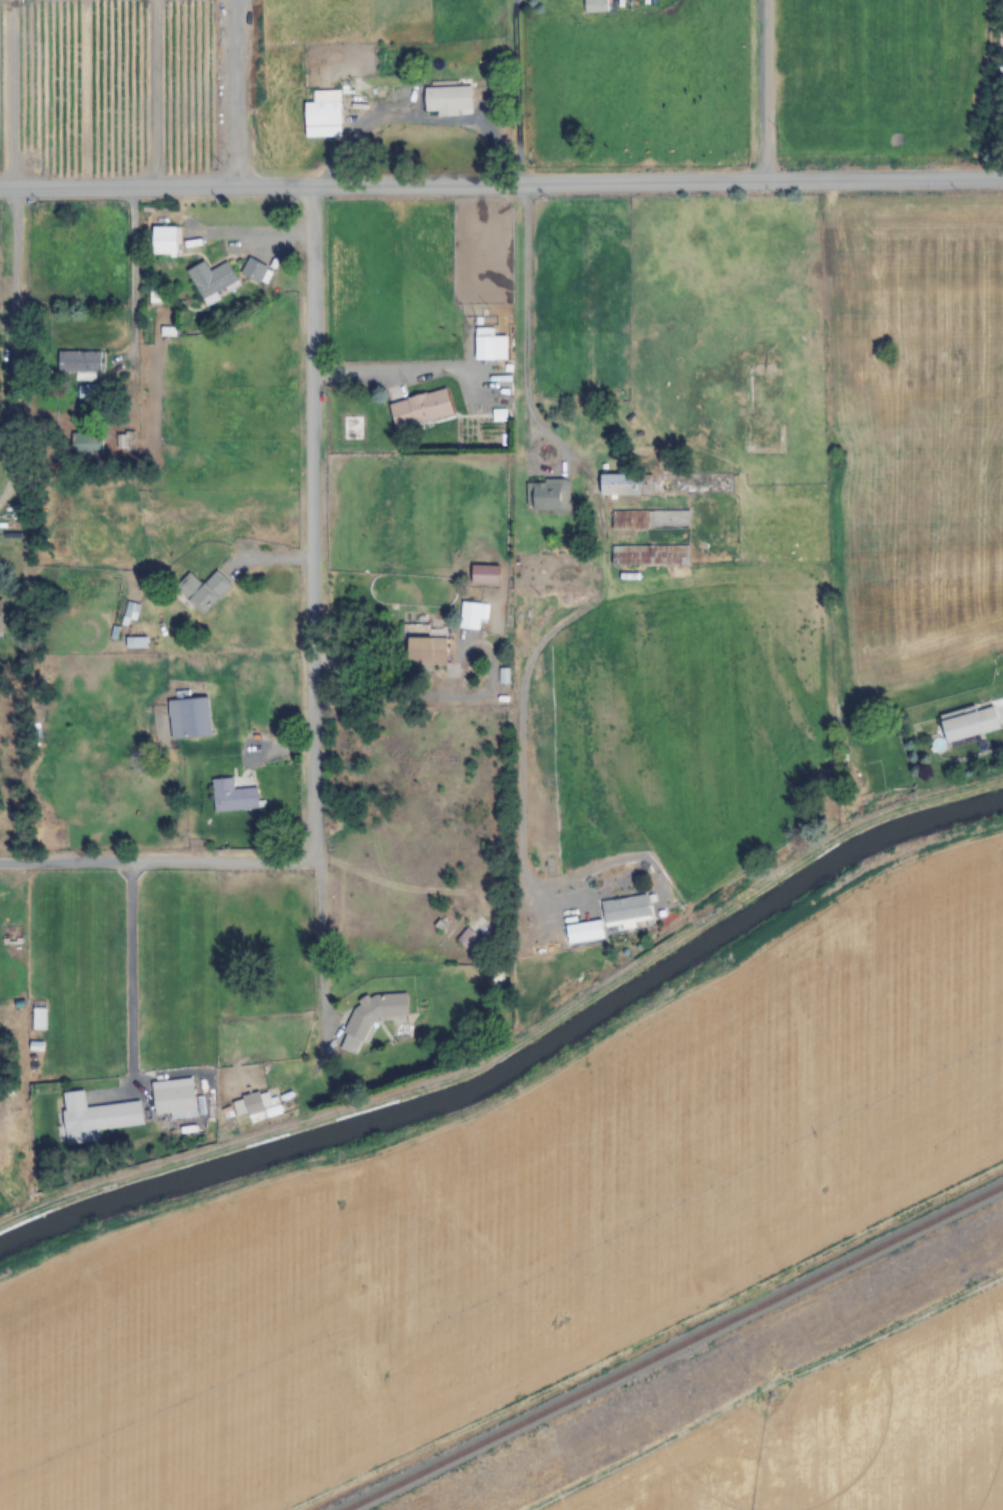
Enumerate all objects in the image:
building: (595, 6)
road: (152, 92)
road: (237, 93)
building: (448, 100)
building: (322, 114)
road: (501, 183)
building: (164, 239)
building: (251, 269)
building: (211, 280)
building: (155, 295)
building: (489, 345)
building: (79, 362)
road: (374, 370)
building: (420, 408)
building: (86, 443)
building: (627, 484)
building: (549, 495)
building: (650, 519)
road: (310, 524)
building: (649, 555)
building: (484, 574)
building: (202, 590)
building: (129, 610)
building: (470, 615)
building: (1, 617)
building: (426, 649)
road: (396, 701)
building: (189, 718)
building: (969, 722)
building: (233, 796)
road: (156, 864)
building: (608, 918)
building: (453, 923)
building: (468, 939)
road: (129, 975)
building: (370, 1018)
building: (173, 1097)
building: (258, 1106)
building: (96, 1116)
crop: (519, 1218)
railway: (698, 1359)

